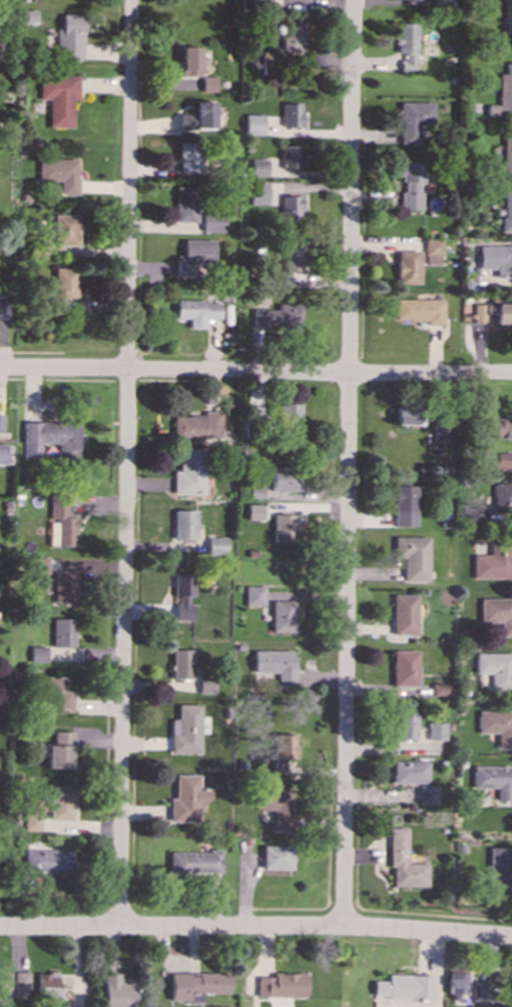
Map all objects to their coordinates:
building: (442, 2)
building: (508, 17)
building: (70, 37)
building: (292, 37)
building: (407, 44)
building: (189, 61)
building: (270, 63)
building: (208, 83)
building: (502, 94)
building: (59, 98)
building: (291, 115)
building: (197, 117)
building: (413, 120)
building: (253, 124)
building: (506, 154)
building: (189, 157)
building: (290, 157)
building: (259, 167)
building: (59, 174)
building: (410, 184)
building: (258, 193)
building: (185, 204)
building: (291, 207)
building: (506, 211)
building: (211, 222)
building: (65, 230)
building: (432, 251)
building: (193, 255)
building: (290, 257)
building: (496, 259)
building: (407, 267)
building: (64, 282)
building: (3, 308)
building: (419, 310)
building: (196, 311)
building: (493, 313)
building: (276, 316)
road: (255, 372)
building: (408, 417)
building: (289, 420)
building: (0, 421)
building: (196, 425)
building: (441, 426)
building: (502, 429)
building: (51, 439)
building: (2, 454)
building: (504, 461)
road: (125, 463)
road: (348, 463)
building: (188, 472)
building: (284, 479)
building: (404, 505)
building: (253, 511)
building: (63, 524)
building: (183, 524)
building: (286, 527)
building: (215, 546)
building: (412, 557)
building: (493, 562)
building: (38, 565)
building: (64, 586)
building: (254, 595)
building: (181, 596)
building: (497, 613)
building: (403, 614)
building: (282, 616)
building: (63, 632)
building: (38, 654)
building: (181, 664)
building: (275, 664)
building: (403, 668)
building: (495, 668)
building: (205, 684)
building: (438, 689)
building: (58, 695)
building: (405, 726)
building: (186, 730)
building: (436, 731)
building: (60, 750)
building: (409, 772)
building: (493, 780)
building: (426, 794)
building: (187, 799)
building: (62, 803)
building: (277, 806)
building: (32, 822)
building: (275, 857)
building: (48, 861)
building: (194, 862)
building: (403, 862)
building: (498, 871)
road: (256, 927)
building: (456, 984)
building: (20, 985)
building: (46, 985)
building: (196, 985)
building: (281, 985)
building: (405, 987)
building: (4, 989)
building: (117, 991)
building: (483, 992)

